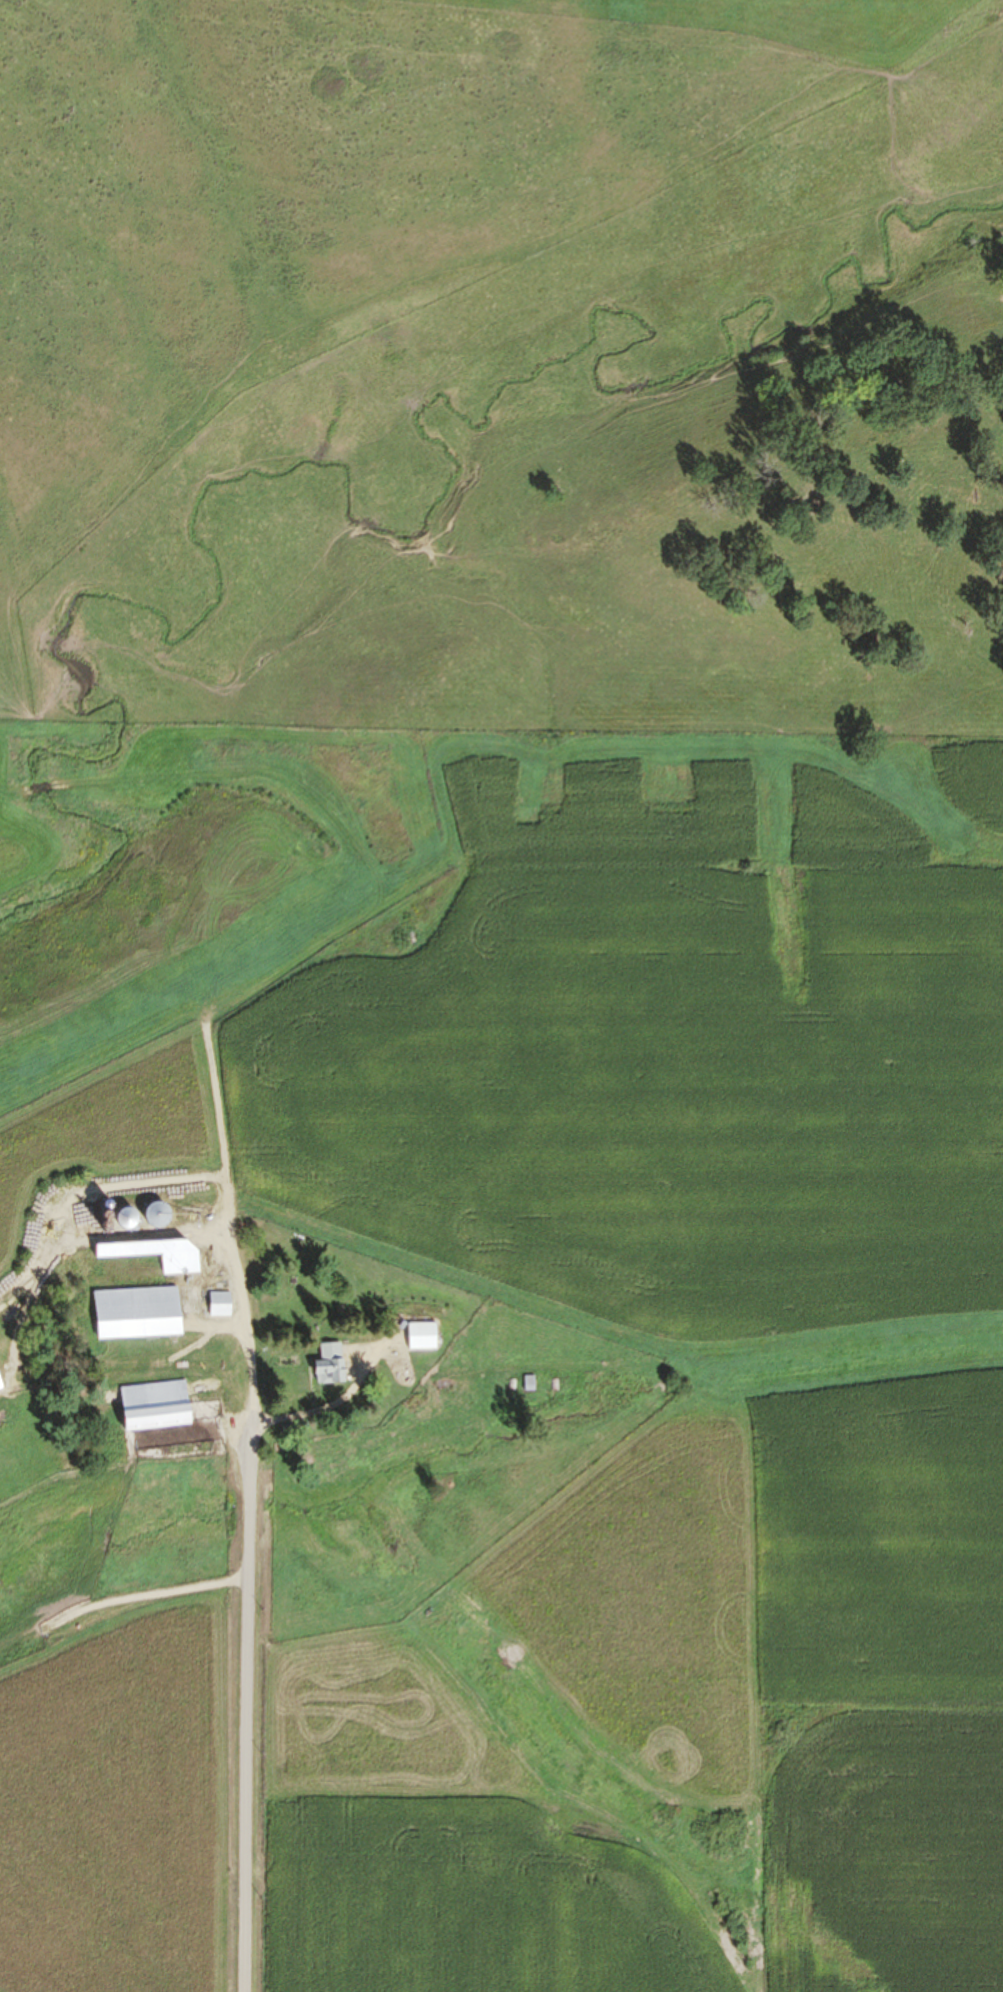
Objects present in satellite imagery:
building: (135, 1218)
building: (162, 1254)
building: (142, 1313)
building: (424, 1336)
building: (332, 1363)
building: (2, 1382)
building: (531, 1383)
building: (162, 1406)
road: (251, 1589)

